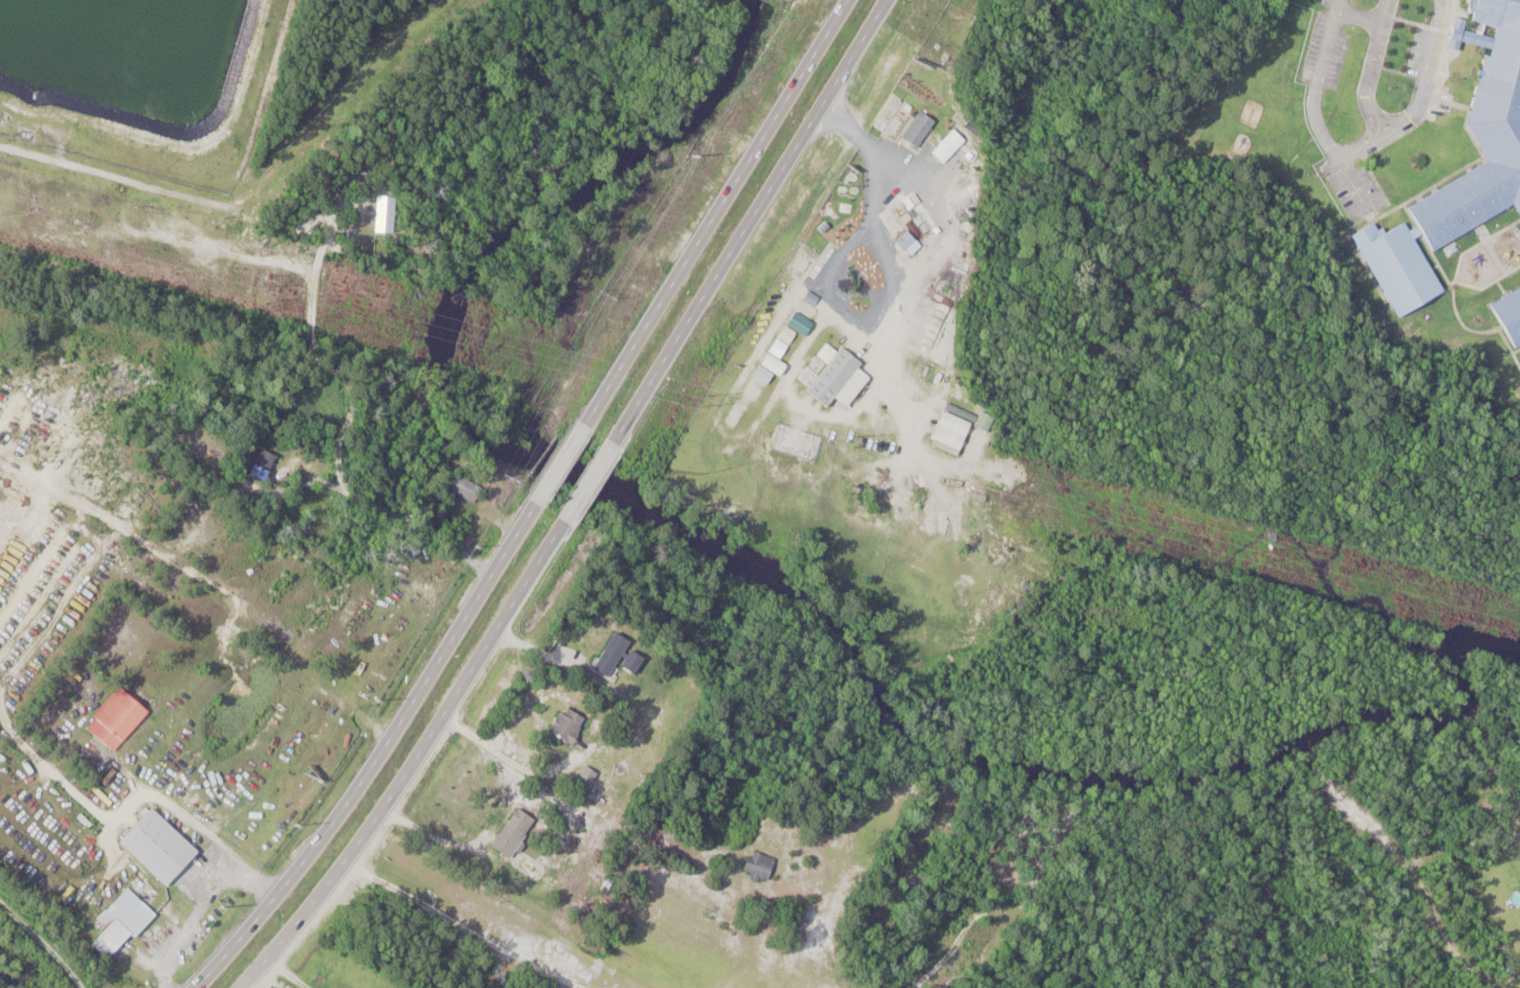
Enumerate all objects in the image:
road: (1363, 19)
parking lot: (1380, 48)
parking lot: (1327, 49)
road: (1375, 70)
building: (913, 129)
building: (1496, 143)
building: (945, 147)
road: (1356, 154)
road: (1356, 186)
parking lot: (1353, 189)
building: (390, 213)
road: (716, 214)
road: (745, 222)
building: (821, 242)
building: (932, 242)
building: (805, 264)
building: (858, 275)
power tower: (272, 279)
power tower: (598, 286)
building: (1508, 315)
building: (796, 317)
building: (831, 377)
power tower: (708, 401)
building: (947, 430)
power tower: (851, 440)
building: (269, 463)
road: (560, 466)
building: (731, 480)
power tower: (513, 484)
road: (590, 485)
building: (472, 488)
building: (712, 491)
building: (898, 495)
power tower: (1271, 555)
building: (608, 656)
road: (554, 659)
building: (121, 718)
building: (562, 726)
road: (376, 755)
road: (512, 758)
road: (415, 763)
building: (583, 777)
road: (111, 817)
road: (427, 834)
building: (510, 834)
building: (165, 846)
building: (754, 866)
road: (198, 904)
building: (123, 923)
road: (458, 926)
road: (47, 939)

